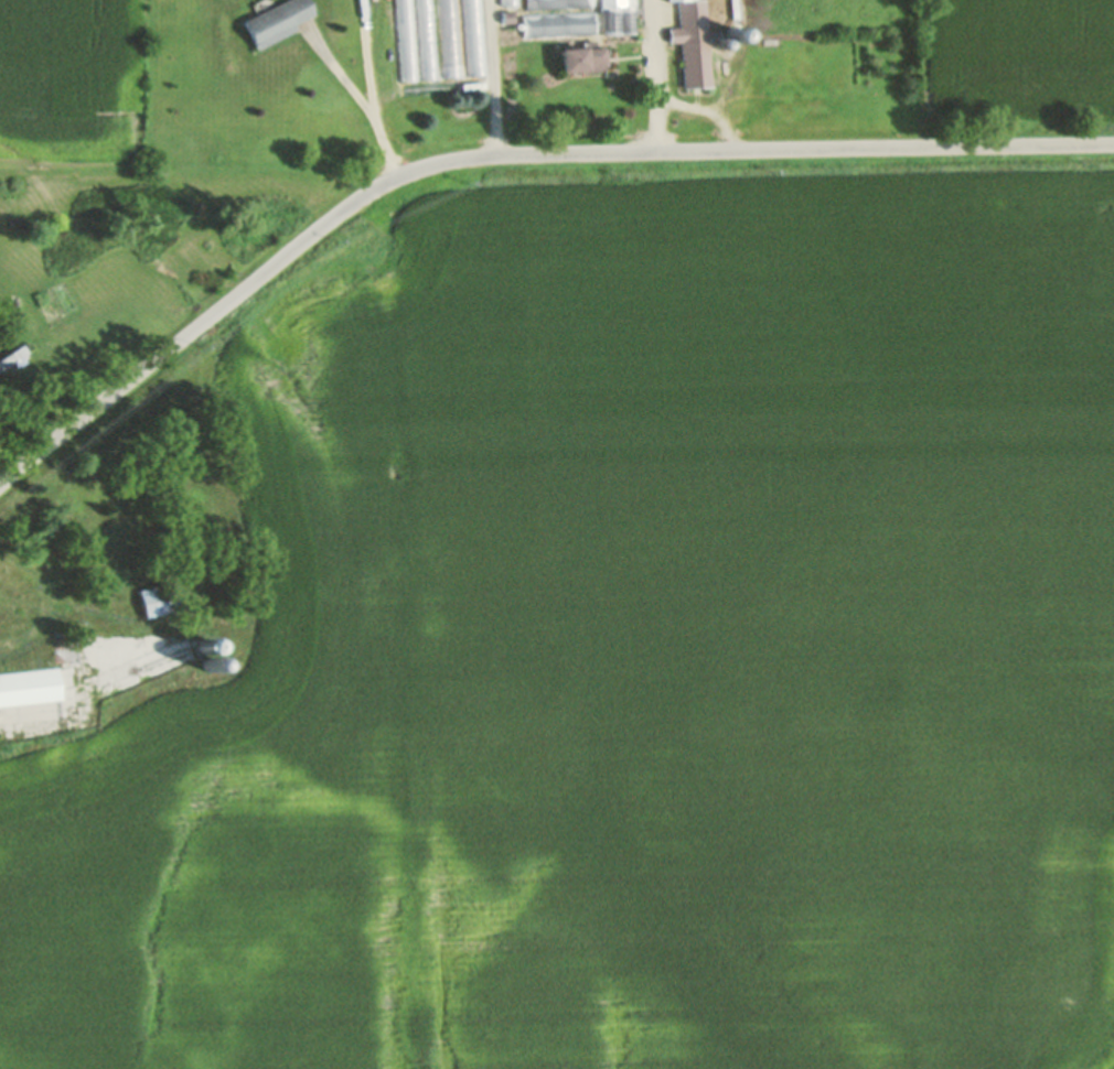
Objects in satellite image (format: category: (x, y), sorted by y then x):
building: (510, 1)
building: (557, 3)
building: (618, 18)
building: (275, 21)
building: (560, 23)
building: (474, 36)
building: (450, 37)
building: (427, 39)
building: (405, 40)
building: (694, 42)
building: (581, 58)
road: (654, 75)
road: (497, 77)
road: (363, 96)
road: (706, 110)
road: (502, 155)
building: (14, 356)
building: (120, 573)
building: (154, 600)
road: (54, 603)
building: (10, 618)
road: (142, 625)
building: (28, 687)

